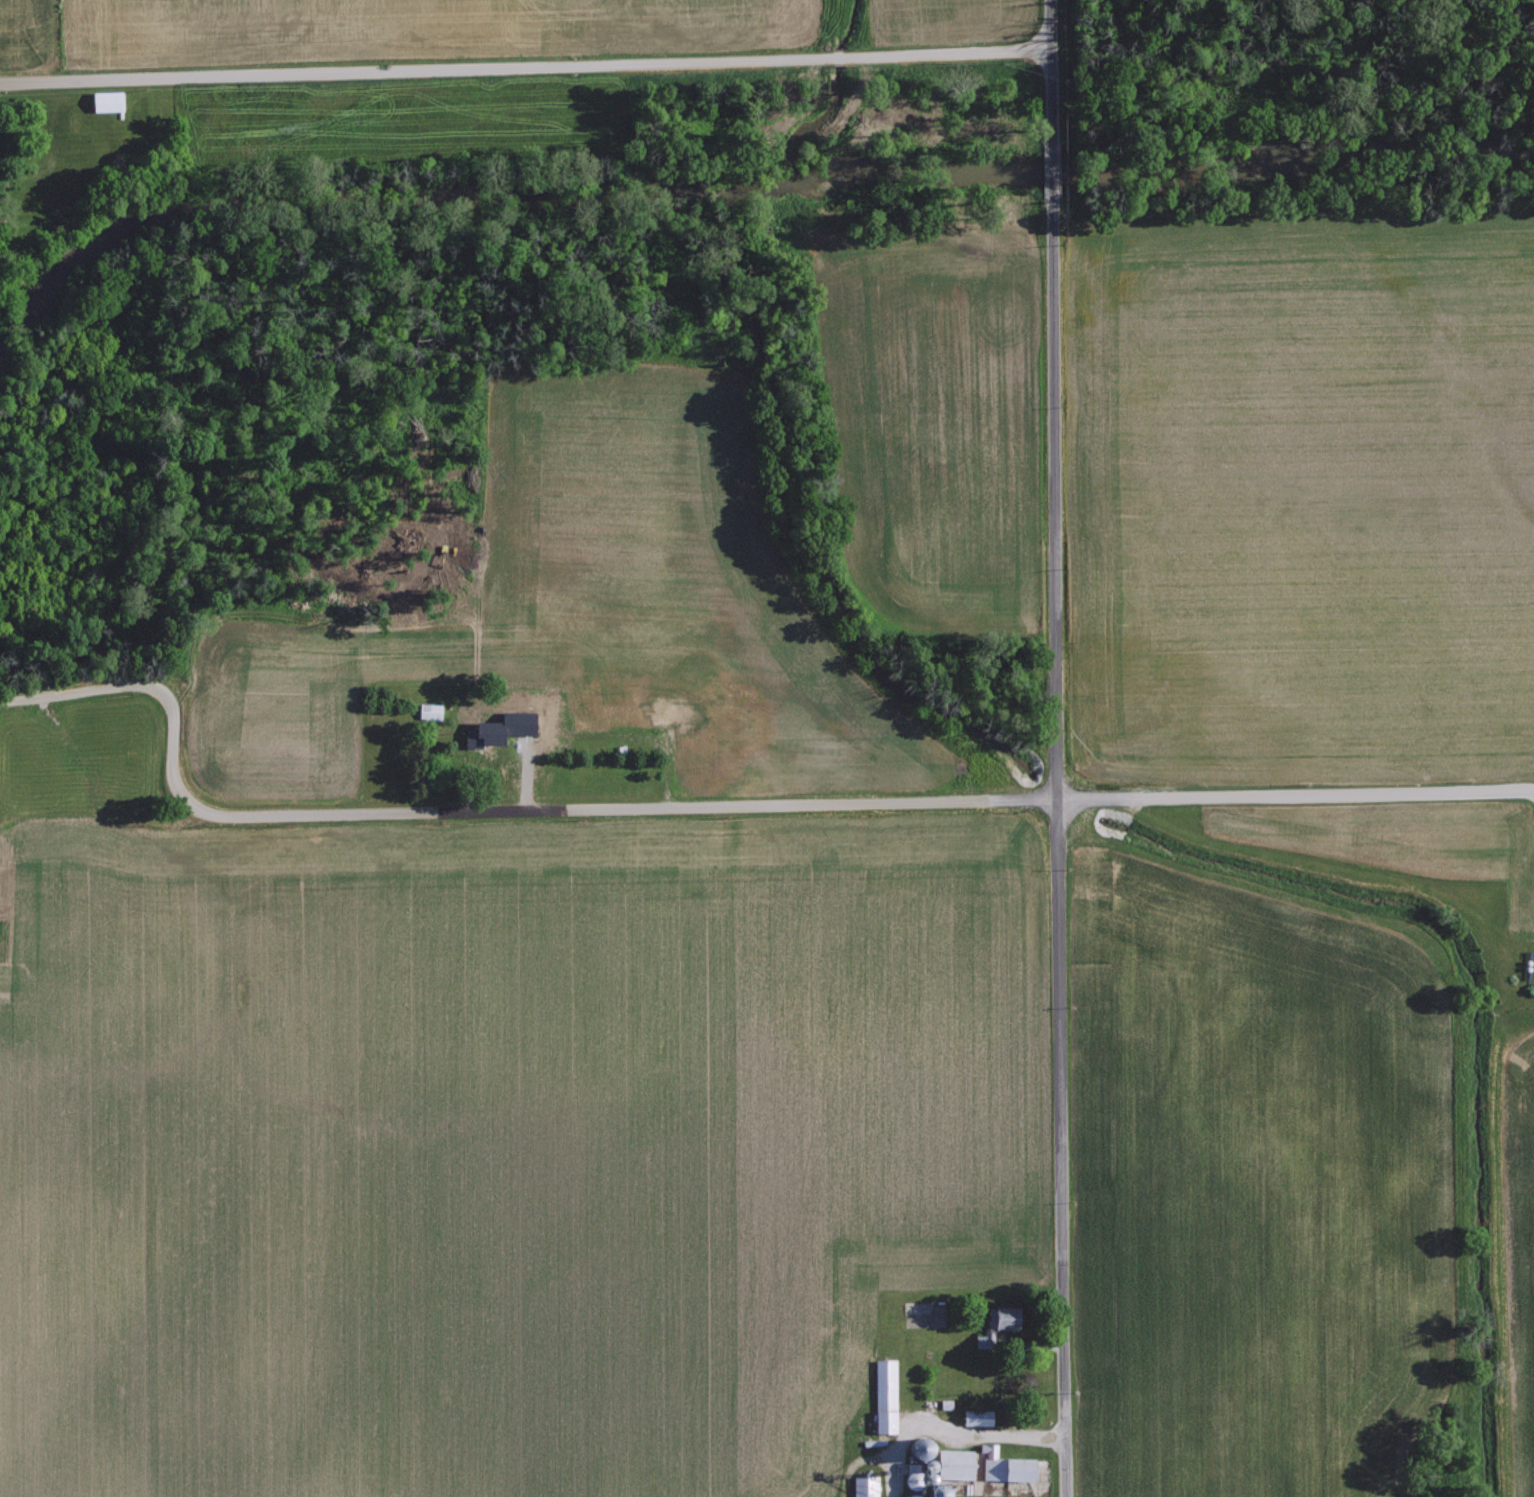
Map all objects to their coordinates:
road: (524, 58)
road: (1049, 60)
building: (105, 100)
road: (1051, 158)
river: (732, 178)
building: (429, 711)
building: (667, 714)
building: (483, 734)
road: (715, 808)
road: (1065, 845)
building: (975, 1415)
building: (885, 1419)
building: (1006, 1465)

